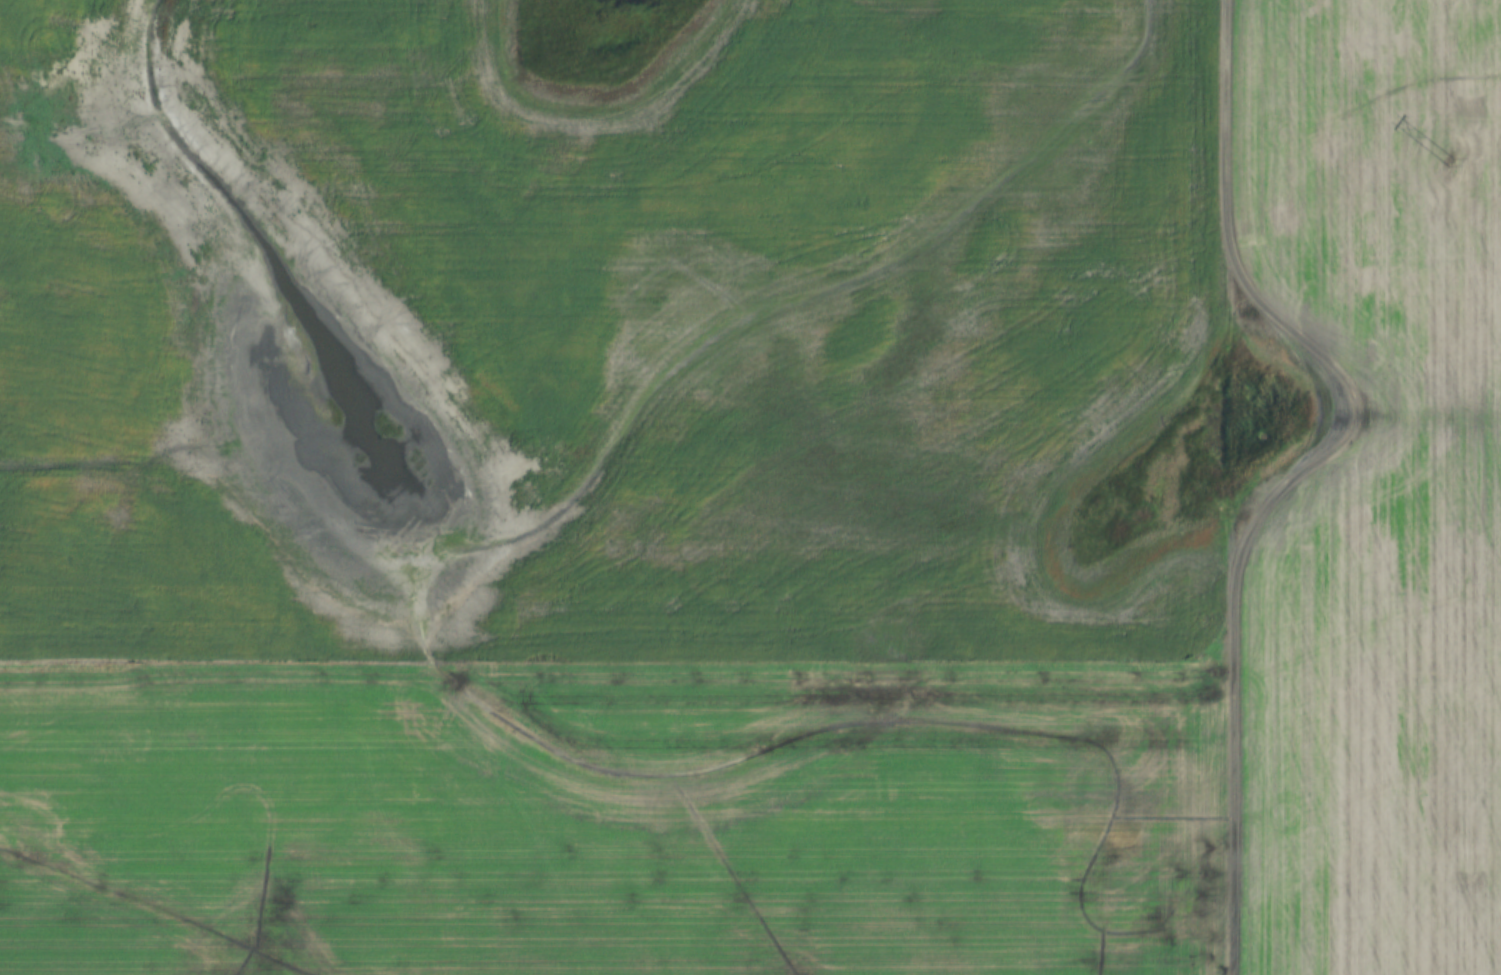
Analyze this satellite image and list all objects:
power tower: (1450, 162)
road: (1296, 480)

